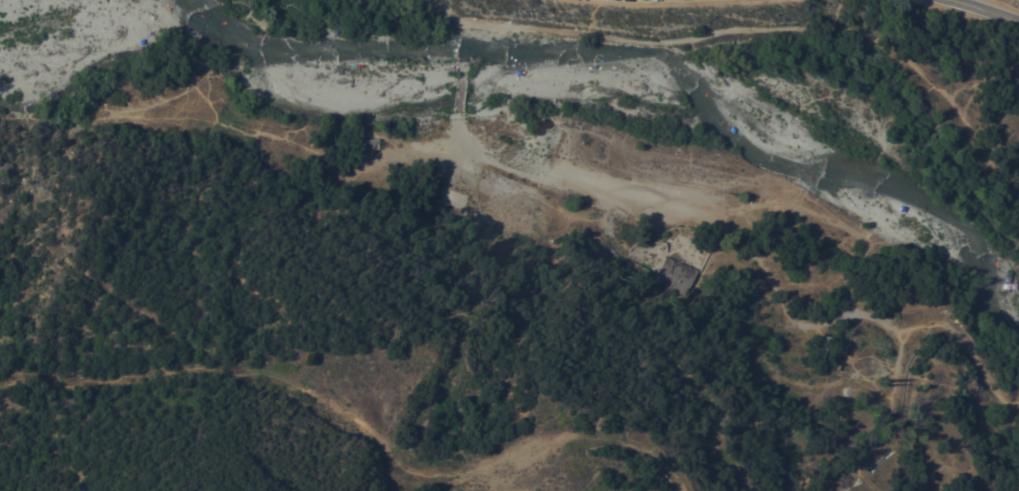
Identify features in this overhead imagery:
road: (985, 9)
road: (459, 27)
road: (462, 89)
river: (584, 90)
building: (371, 143)
road: (579, 197)
building: (678, 271)
road: (782, 322)
building: (831, 345)
road: (974, 352)
road: (896, 429)
road: (617, 441)

